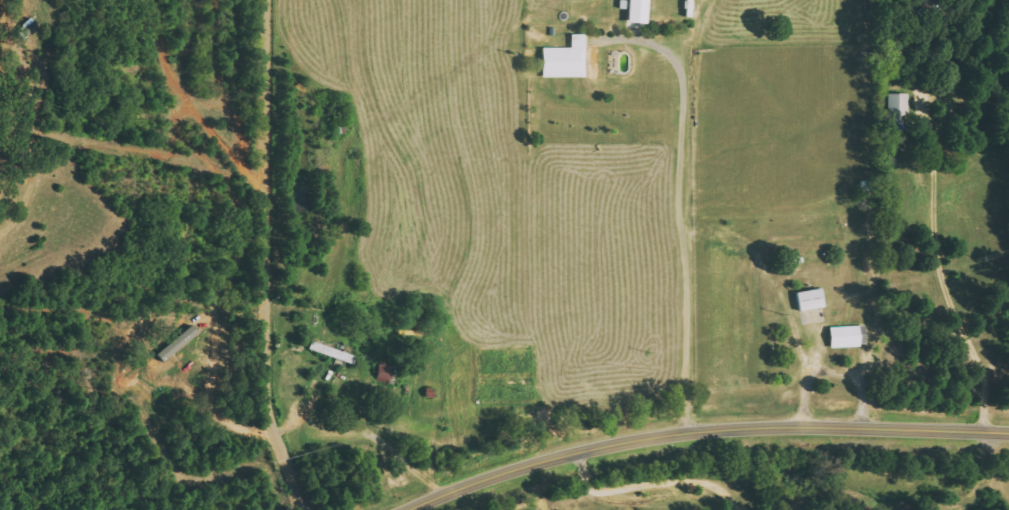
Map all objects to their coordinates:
road: (6, 7)
building: (641, 11)
building: (567, 59)
road: (190, 103)
building: (897, 108)
road: (265, 258)
road: (944, 273)
building: (811, 299)
building: (849, 336)
building: (179, 343)
building: (333, 353)
road: (706, 434)

